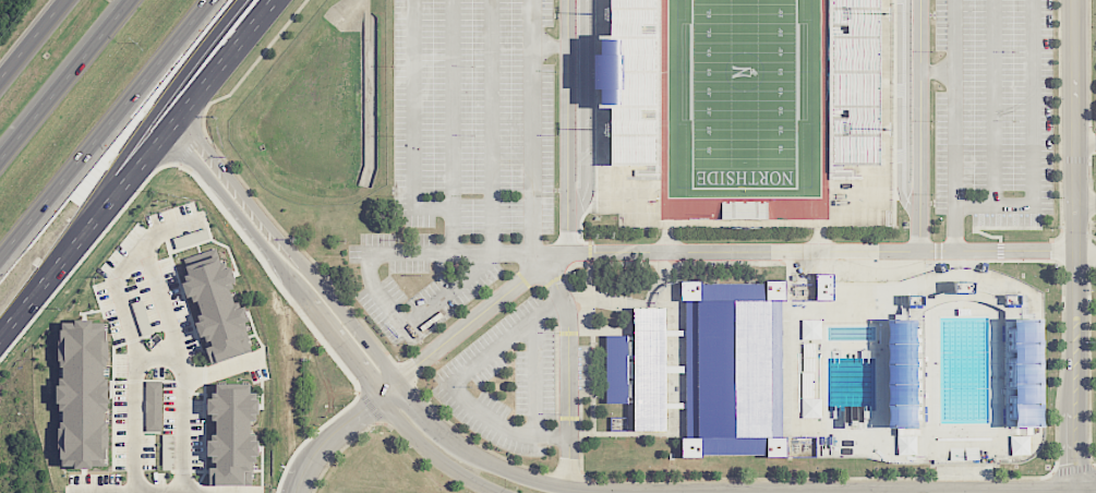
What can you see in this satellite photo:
road: (31, 37)
road: (937, 71)
road: (64, 80)
building: (852, 81)
road: (210, 82)
building: (626, 82)
park: (742, 94)
road: (992, 103)
road: (158, 106)
parking lot: (473, 116)
stadium: (744, 116)
parking lot: (998, 116)
road: (412, 122)
road: (919, 124)
road: (955, 124)
road: (569, 125)
road: (450, 127)
road: (531, 127)
road: (104, 128)
road: (1033, 141)
road: (1085, 141)
road: (1084, 204)
building: (743, 209)
road: (490, 227)
road: (1073, 245)
road: (713, 251)
road: (1085, 251)
road: (72, 252)
road: (456, 254)
road: (132, 260)
building: (216, 305)
road: (317, 317)
parking lot: (485, 329)
building: (810, 329)
road: (160, 350)
building: (638, 368)
building: (730, 368)
road: (566, 371)
building: (902, 373)
building: (1021, 373)
road: (534, 377)
road: (451, 383)
building: (83, 394)
building: (153, 406)
road: (338, 430)
building: (232, 434)
building: (1019, 445)
road: (556, 484)

